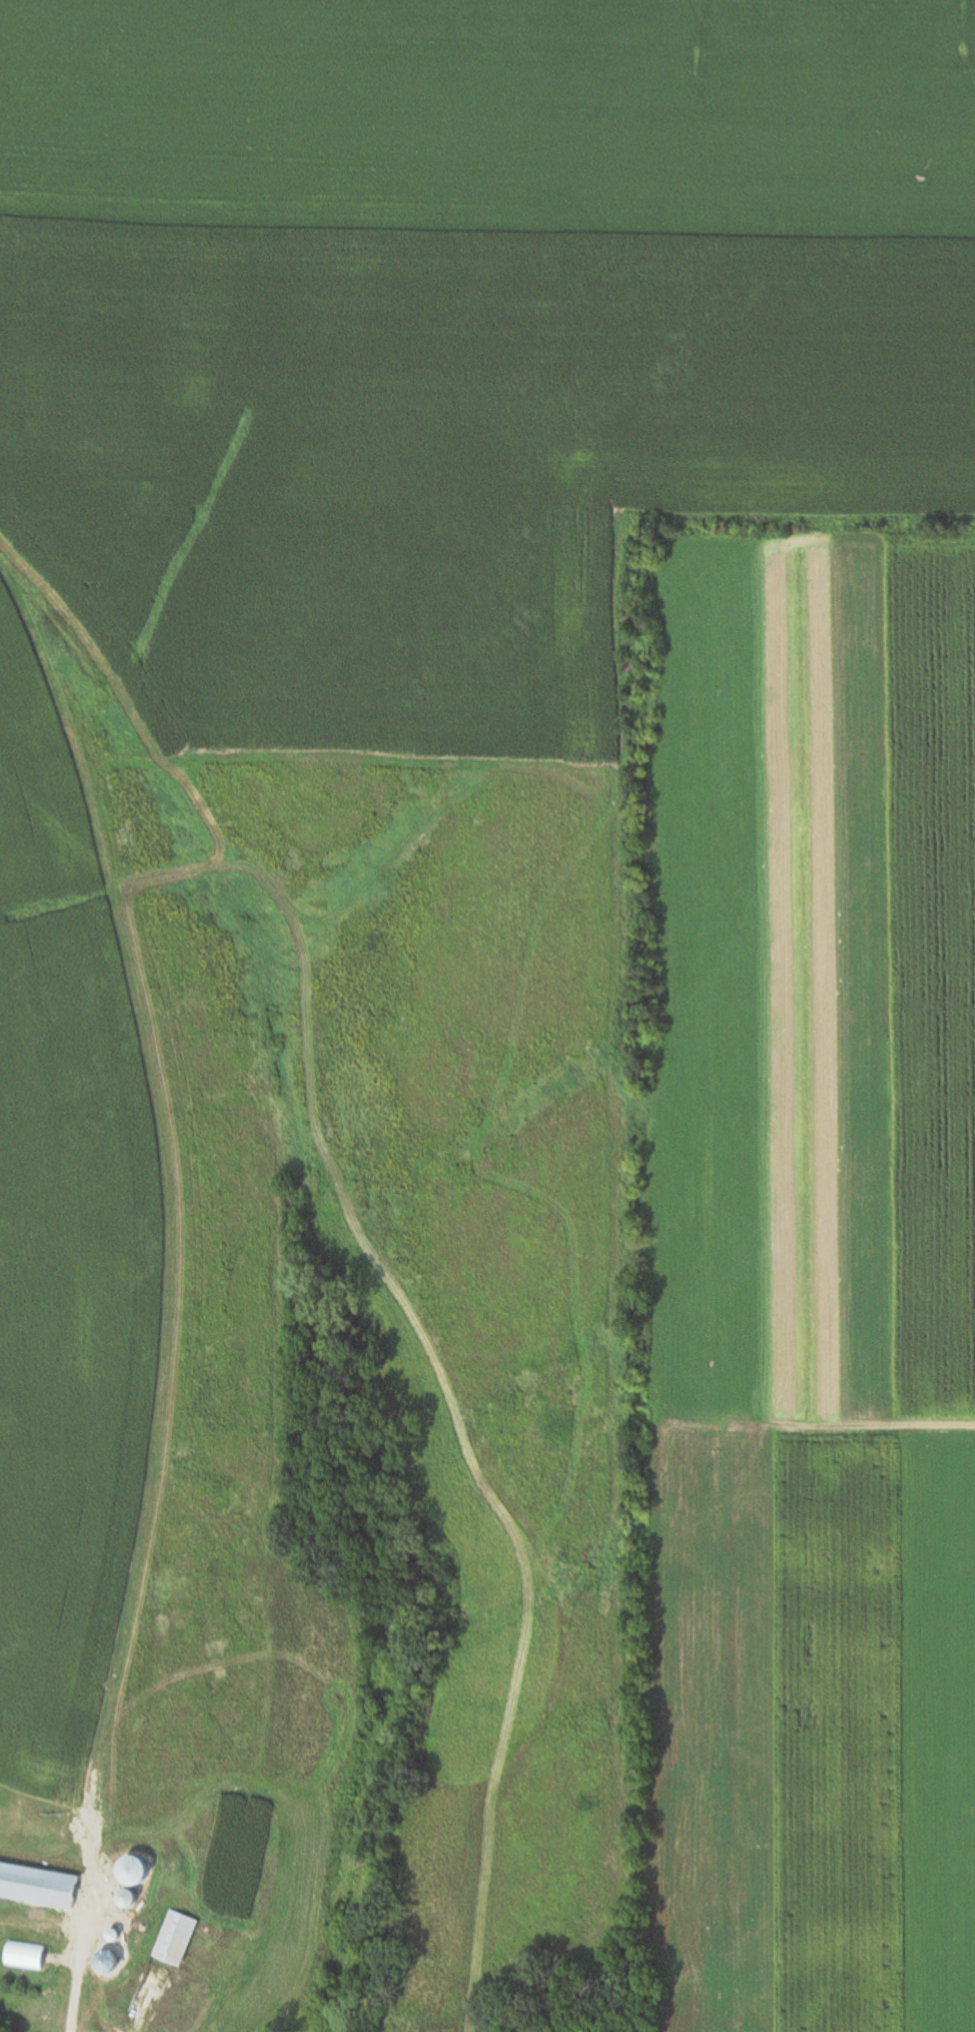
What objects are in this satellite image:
building: (132, 1869)
building: (37, 1884)
building: (128, 1898)
building: (175, 1940)
road: (81, 1954)
building: (26, 1955)

